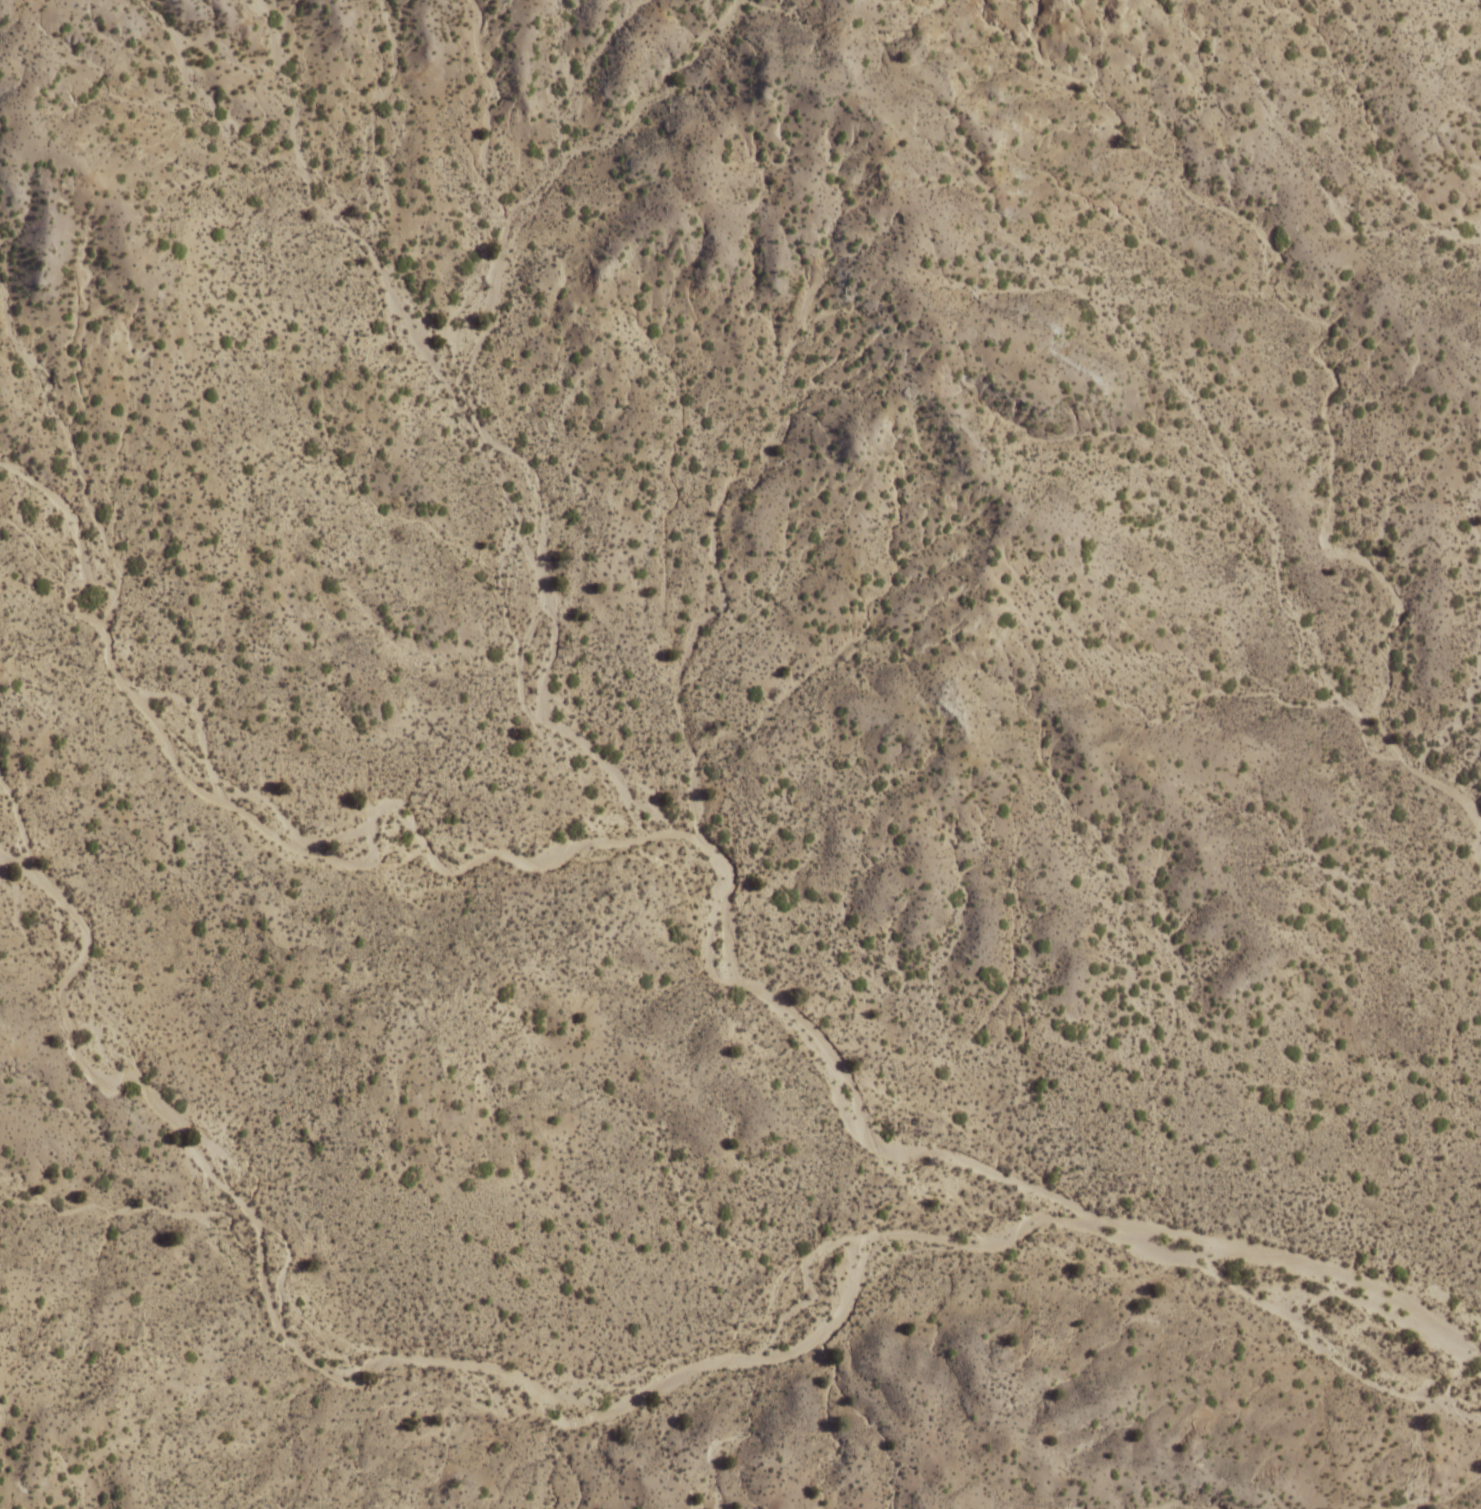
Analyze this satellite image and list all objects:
road: (1345, 207)
river: (1275, 1257)

